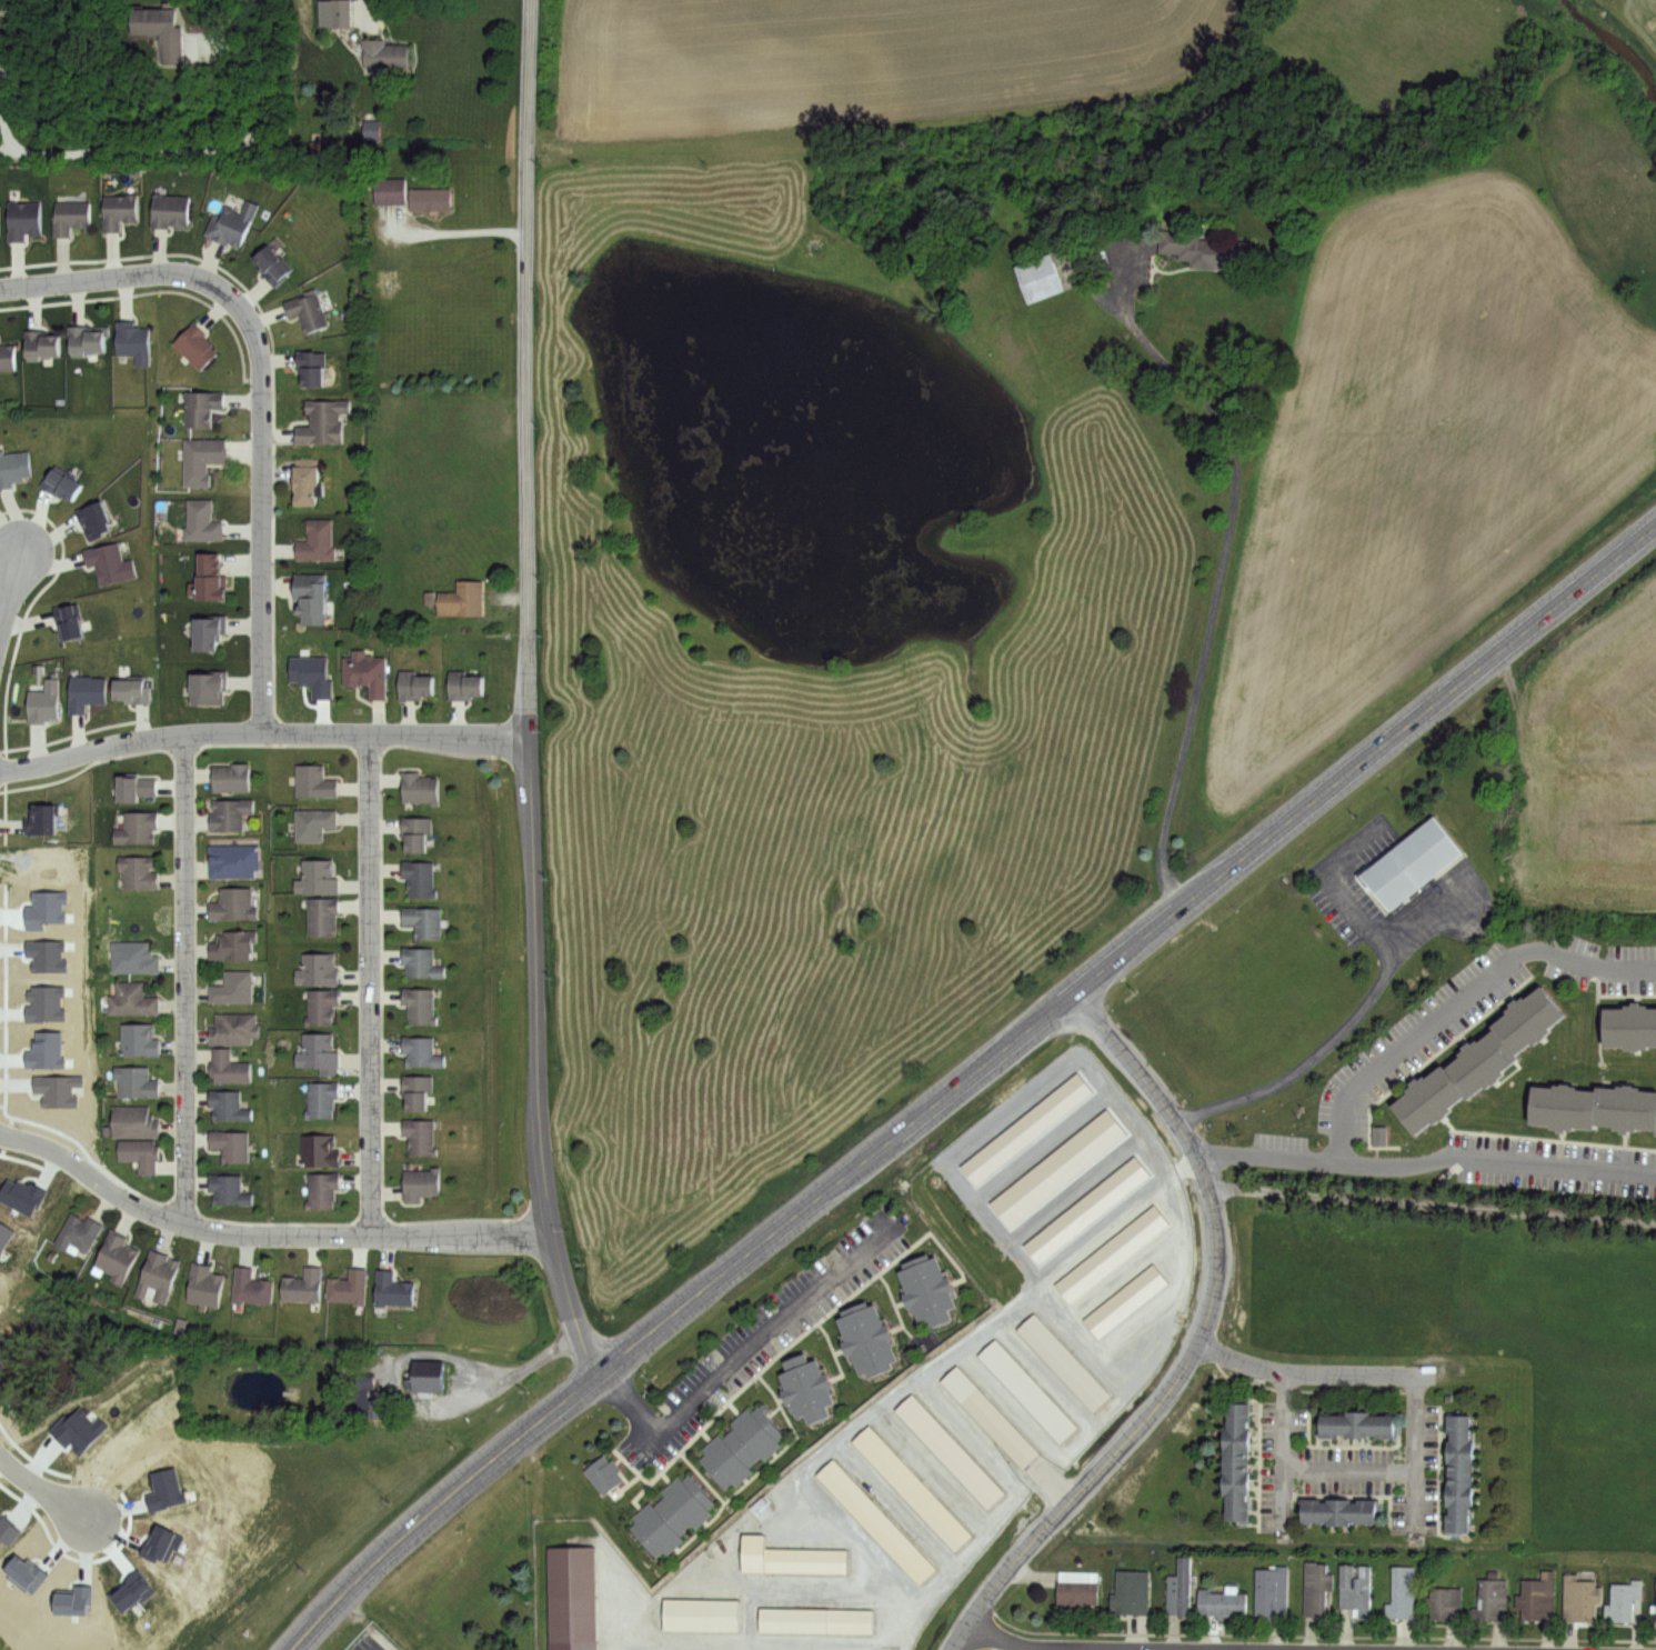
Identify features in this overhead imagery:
building: (1, 6)
building: (343, 14)
building: (163, 30)
building: (388, 57)
crop: (930, 57)
building: (369, 131)
road: (7, 144)
road: (175, 147)
building: (393, 190)
building: (433, 200)
building: (169, 209)
building: (118, 210)
building: (69, 216)
building: (22, 219)
building: (232, 222)
road: (459, 230)
building: (1208, 252)
building: (272, 263)
building: (1036, 278)
building: (307, 309)
building: (88, 338)
building: (133, 340)
building: (41, 343)
building: (194, 346)
building: (7, 356)
building: (311, 366)
road: (262, 392)
building: (200, 407)
crop: (1442, 414)
building: (322, 420)
building: (200, 458)
building: (13, 466)
building: (307, 481)
building: (63, 482)
building: (96, 519)
building: (201, 520)
building: (315, 539)
building: (109, 561)
road: (1217, 567)
building: (211, 578)
road: (9, 589)
building: (312, 596)
building: (461, 598)
building: (69, 621)
building: (209, 631)
building: (367, 672)
building: (312, 673)
building: (415, 684)
building: (465, 684)
building: (213, 688)
building: (134, 692)
road: (528, 692)
building: (89, 694)
building: (47, 704)
road: (262, 733)
building: (234, 777)
building: (313, 779)
crop: (1580, 780)
building: (138, 784)
building: (418, 786)
building: (231, 813)
building: (46, 817)
building: (312, 822)
building: (140, 827)
building: (416, 831)
building: (237, 861)
building: (1411, 862)
building: (141, 869)
building: (315, 874)
building: (418, 877)
road: (1337, 887)
building: (237, 903)
building: (44, 908)
building: (321, 914)
building: (422, 920)
building: (237, 944)
building: (46, 953)
building: (137, 957)
building: (420, 960)
building: (317, 968)
road: (185, 981)
building: (235, 987)
road: (370, 987)
building: (134, 999)
building: (44, 1002)
building: (419, 1003)
building: (320, 1004)
building: (1526, 1017)
building: (1628, 1024)
building: (237, 1029)
road: (1337, 1032)
building: (142, 1039)
road: (1403, 1040)
building: (46, 1049)
building: (421, 1050)
building: (318, 1051)
building: (1478, 1059)
building: (231, 1067)
building: (138, 1081)
road: (968, 1086)
building: (57, 1089)
building: (416, 1090)
building: (1425, 1097)
building: (321, 1098)
building: (230, 1104)
building: (1560, 1104)
building: (1625, 1107)
building: (138, 1122)
building: (419, 1136)
building: (1375, 1137)
building: (232, 1143)
building: (318, 1148)
building: (144, 1154)
road: (1494, 1167)
building: (419, 1182)
building: (321, 1188)
building: (232, 1189)
building: (21, 1194)
road: (1432, 1202)
building: (1087, 1208)
building: (81, 1231)
building: (4, 1233)
road: (262, 1234)
building: (1115, 1249)
building: (118, 1254)
building: (161, 1273)
building: (207, 1283)
building: (251, 1286)
building: (303, 1286)
building: (350, 1287)
building: (925, 1289)
building: (394, 1290)
building: (1131, 1298)
building: (864, 1338)
road: (1194, 1347)
road: (740, 1354)
building: (1062, 1362)
road: (1303, 1372)
building: (432, 1376)
road: (503, 1377)
building: (367, 1380)
building: (803, 1389)
building: (1025, 1390)
building: (374, 1408)
building: (987, 1418)
building: (1356, 1424)
building: (78, 1429)
building: (754, 1433)
building: (950, 1450)
road: (1282, 1452)
road: (1415, 1457)
building: (726, 1464)
building: (1233, 1464)
road: (1348, 1470)
building: (601, 1473)
building: (1457, 1474)
building: (912, 1487)
building: (164, 1489)
road: (40, 1490)
building: (684, 1502)
building: (761, 1507)
building: (1336, 1511)
building: (876, 1520)
building: (8, 1530)
building: (654, 1531)
building: (161, 1542)
building: (790, 1557)
building: (26, 1573)
building: (1315, 1587)
building: (1355, 1588)
building: (1178, 1589)
building: (130, 1591)
building: (1271, 1591)
building: (1075, 1592)
building: (1130, 1592)
building: (1401, 1592)
building: (1537, 1597)
building: (570, 1598)
building: (1580, 1598)
building: (73, 1599)
building: (1492, 1599)
building: (1655, 1599)
building: (1624, 1600)
building: (1221, 1602)
building: (1444, 1602)
building: (700, 1613)
building: (816, 1620)
road: (1003, 1641)

